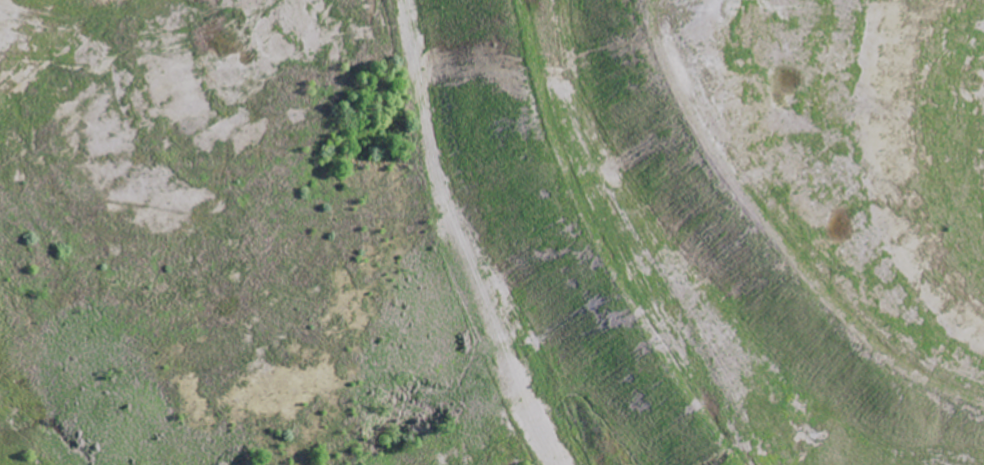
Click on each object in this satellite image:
quarry: (492, 232)

